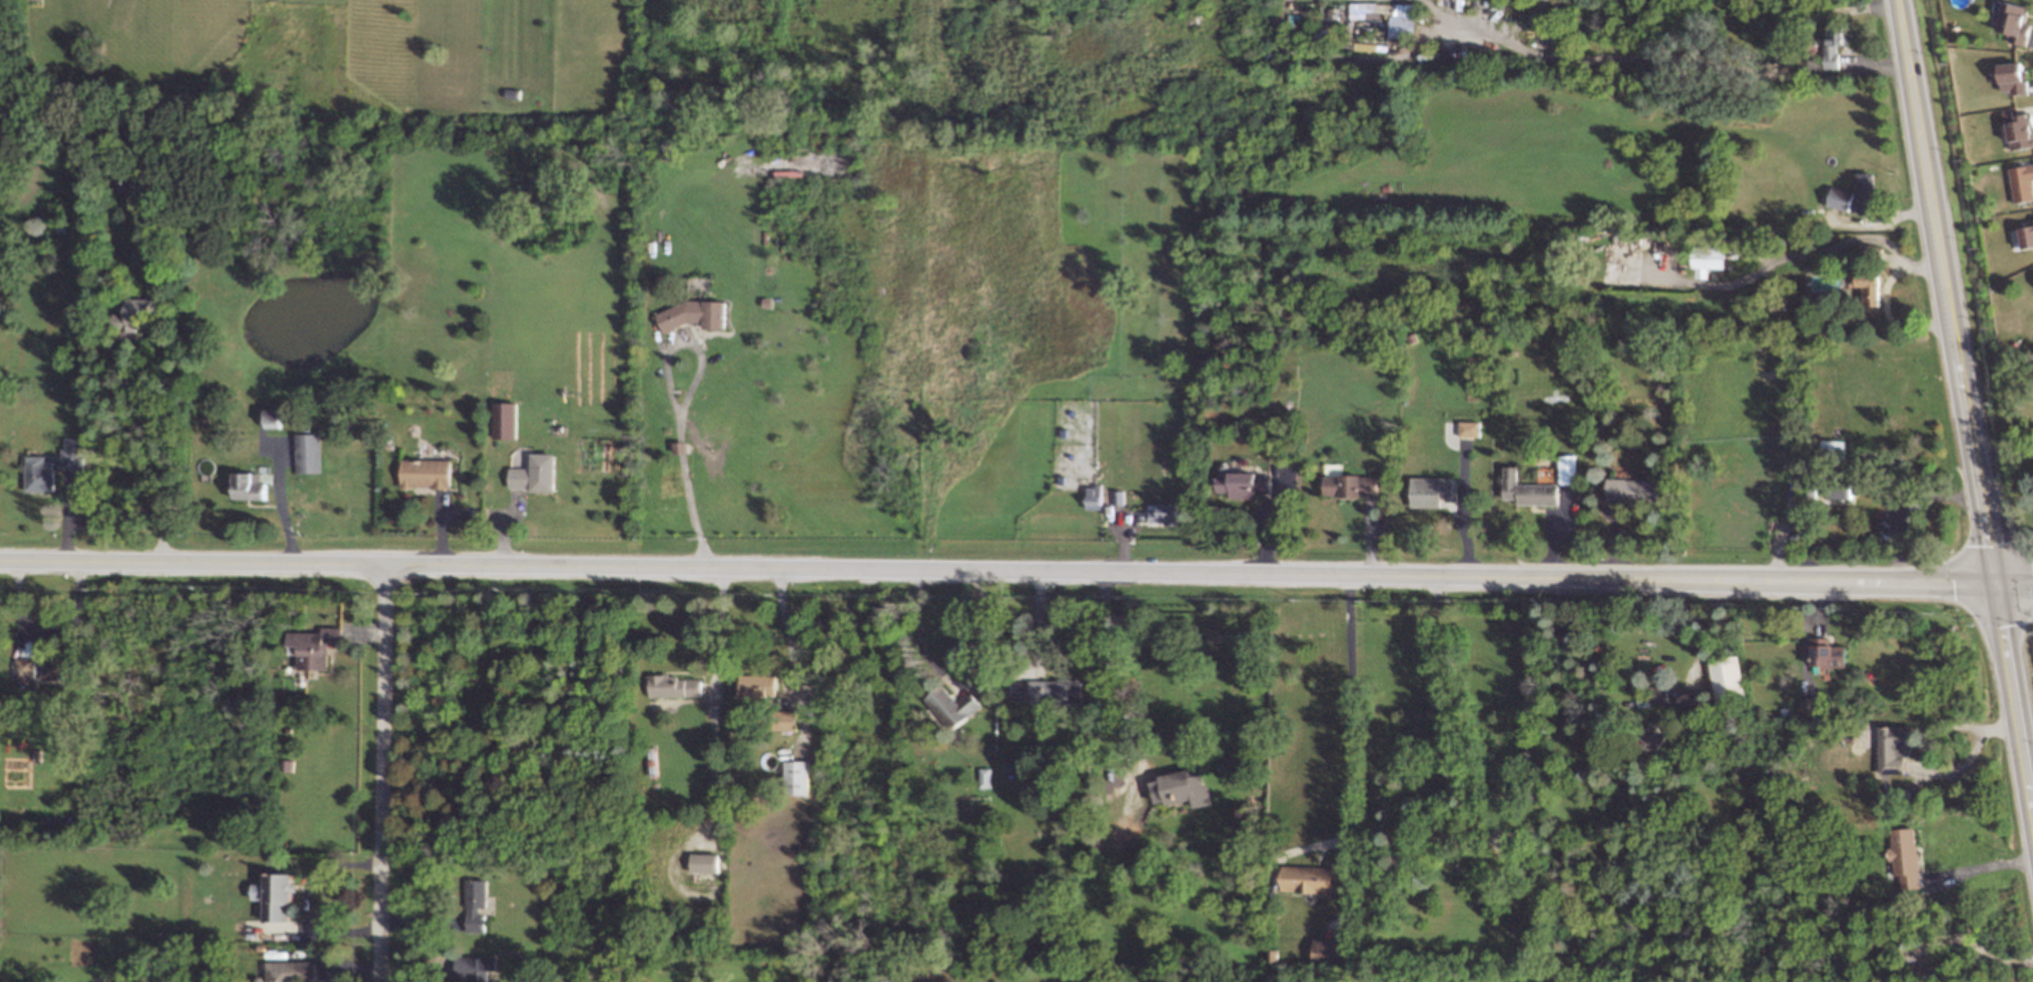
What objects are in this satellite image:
building: (2015, 22)
building: (1835, 43)
building: (2013, 77)
building: (2019, 129)
building: (2022, 182)
building: (1866, 192)
building: (1840, 198)
building: (2032, 220)
building: (2026, 236)
building: (1706, 259)
building: (1870, 288)
building: (138, 314)
building: (694, 314)
road: (670, 343)
road: (1964, 402)
building: (274, 417)
building: (505, 420)
building: (1469, 428)
road: (680, 447)
building: (309, 452)
road: (2003, 452)
building: (73, 453)
road: (142, 459)
building: (1568, 468)
building: (39, 473)
building: (426, 473)
building: (534, 473)
building: (1244, 484)
building: (1351, 485)
building: (250, 486)
building: (1528, 489)
building: (1633, 489)
building: (1841, 490)
building: (1433, 491)
road: (1894, 497)
building: (1093, 499)
road: (690, 511)
building: (1163, 513)
building: (1908, 515)
road: (1016, 572)
traffic signals: (1995, 586)
road: (785, 629)
building: (315, 646)
building: (1827, 652)
building: (24, 667)
building: (53, 669)
building: (1727, 678)
road: (957, 682)
building: (675, 686)
building: (757, 686)
building: (1046, 691)
building: (1659, 695)
road: (714, 700)
road: (1350, 705)
building: (1810, 705)
building: (953, 706)
road: (1459, 708)
building: (788, 720)
building: (1655, 735)
building: (1895, 747)
road: (382, 772)
building: (798, 777)
building: (985, 777)
building: (1180, 788)
building: (1905, 856)
building: (704, 862)
road: (1984, 866)
building: (1308, 878)
building: (477, 905)
road: (1984, 948)
building: (1331, 951)
building: (475, 968)
building: (291, 971)

